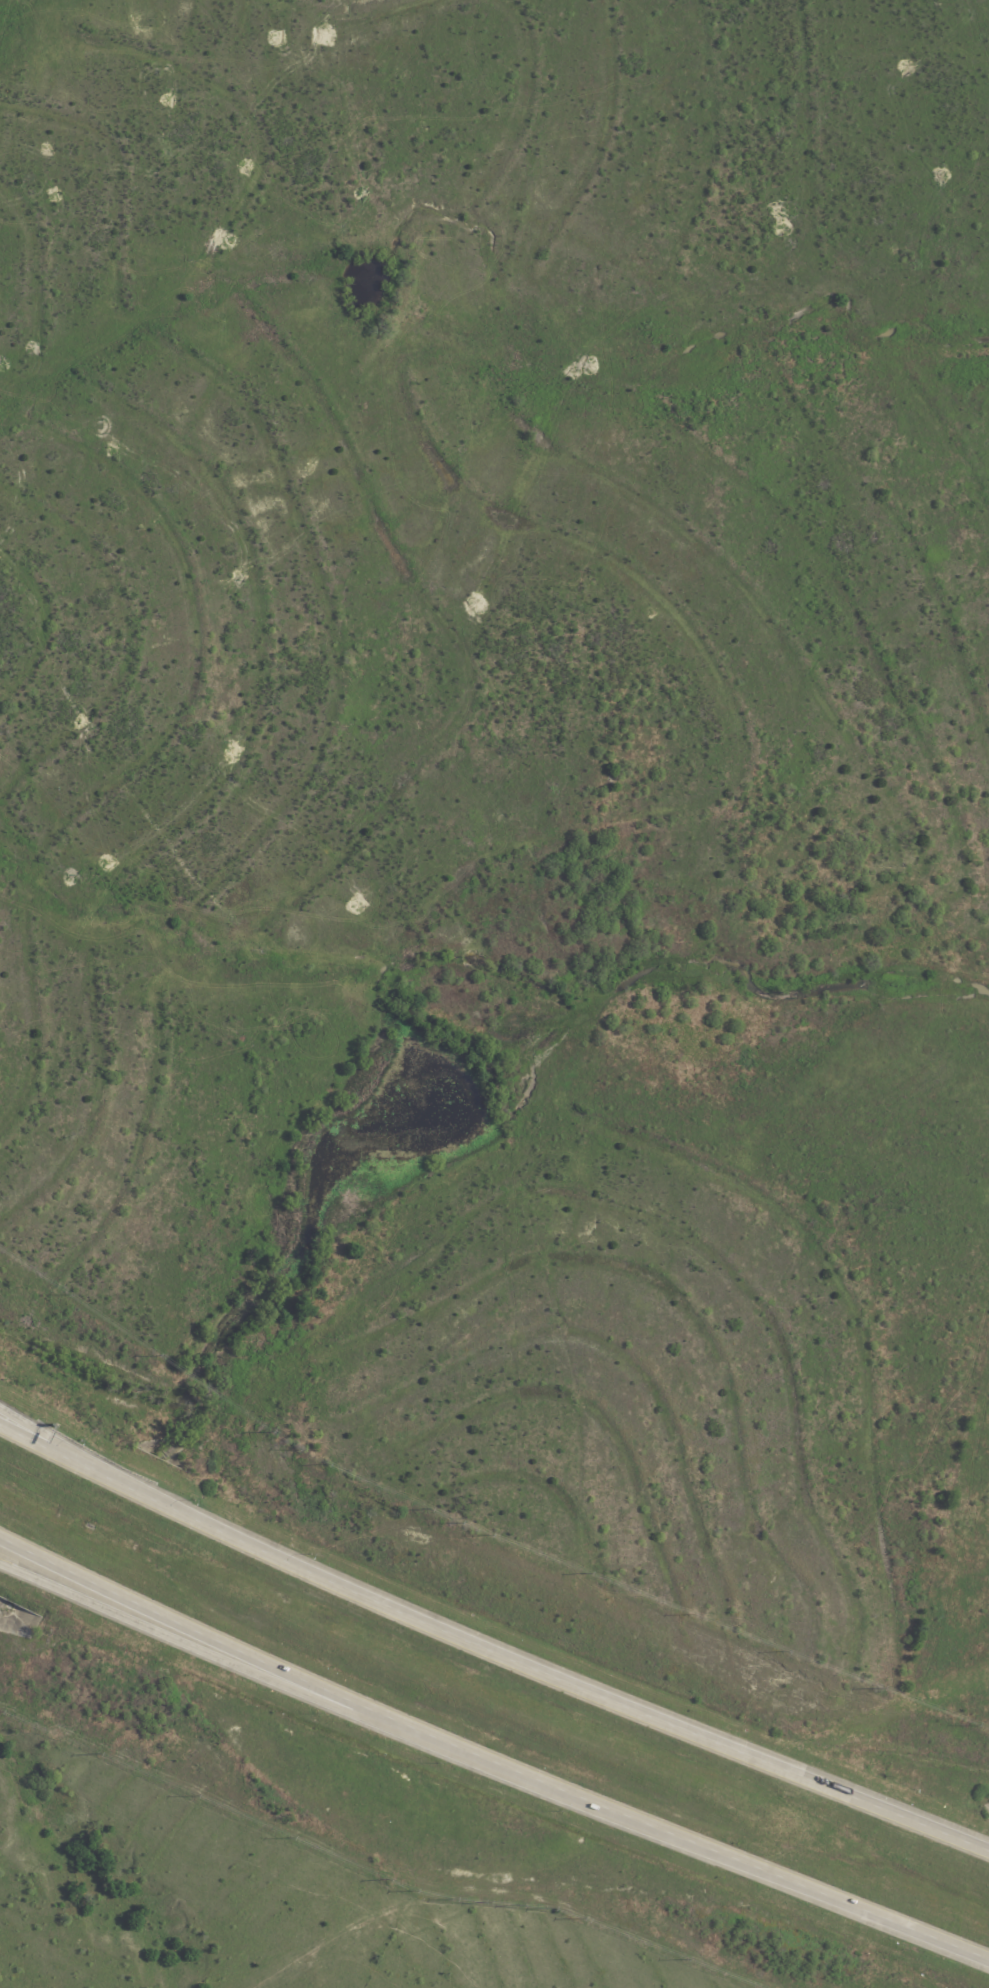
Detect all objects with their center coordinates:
road: (142, 77)
road: (214, 118)
road: (414, 196)
road: (1, 350)
road: (267, 367)
road: (556, 396)
road: (140, 523)
road: (280, 557)
road: (106, 732)
road: (245, 849)
road: (48, 1439)
road: (48, 1446)
road: (165, 1632)
road: (537, 1673)
road: (488, 1760)

